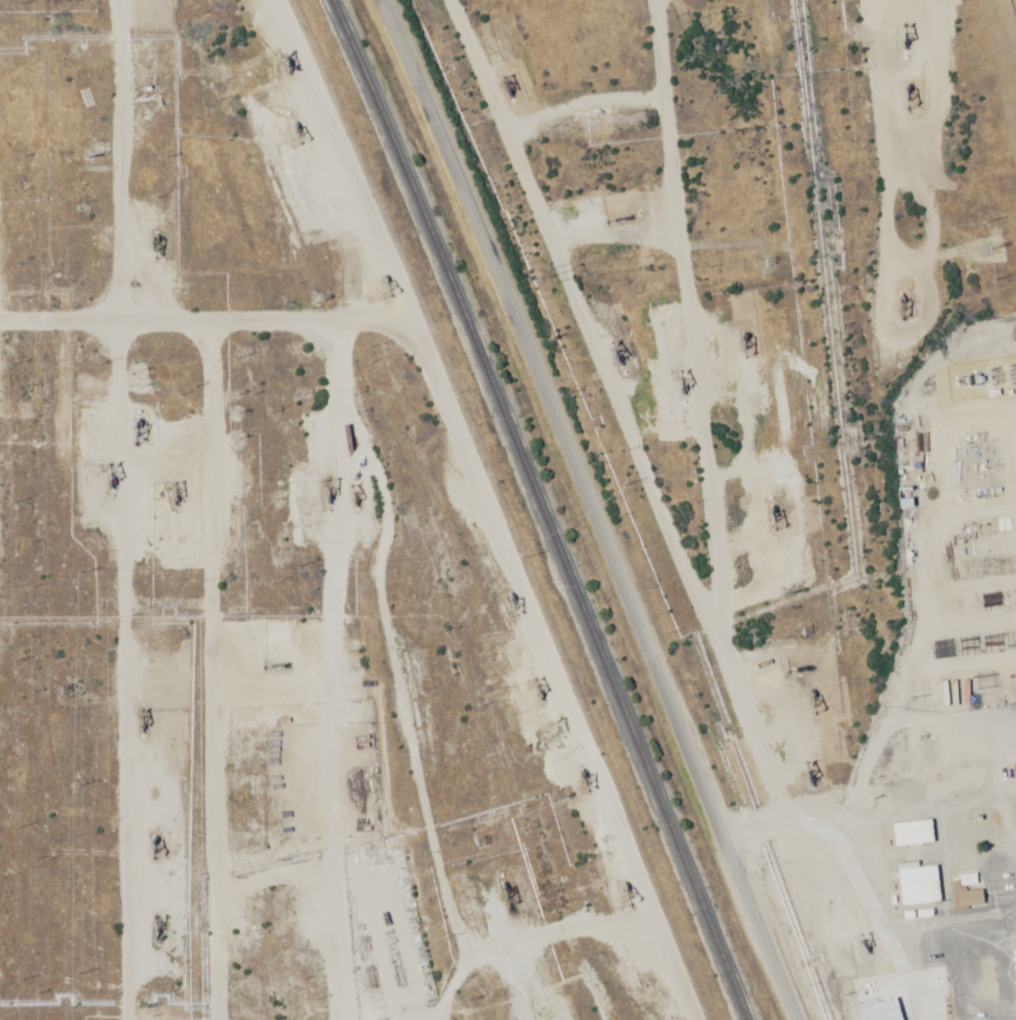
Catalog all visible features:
road: (574, 243)
road: (950, 366)
building: (993, 471)
building: (904, 498)
road: (299, 504)
railway: (537, 508)
road: (75, 510)
road: (587, 510)
road: (377, 544)
road: (183, 688)
building: (988, 688)
building: (963, 694)
road: (959, 719)
building: (965, 778)
building: (904, 789)
road: (813, 806)
road: (756, 828)
building: (911, 833)
building: (994, 839)
building: (916, 884)
building: (880, 1011)

